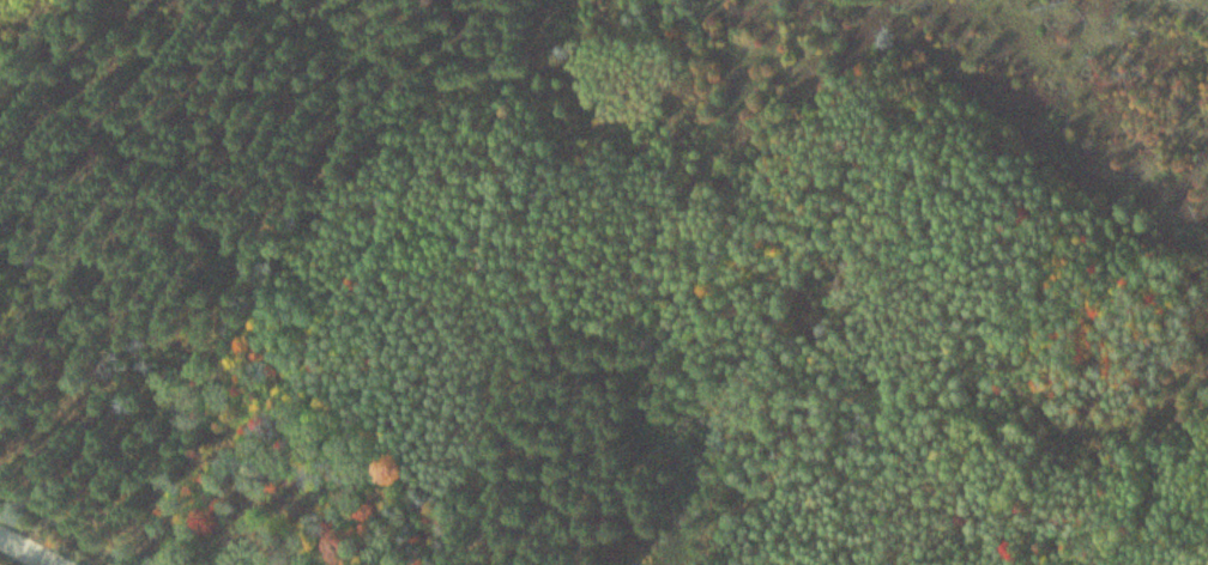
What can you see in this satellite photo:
road: (22, 553)

